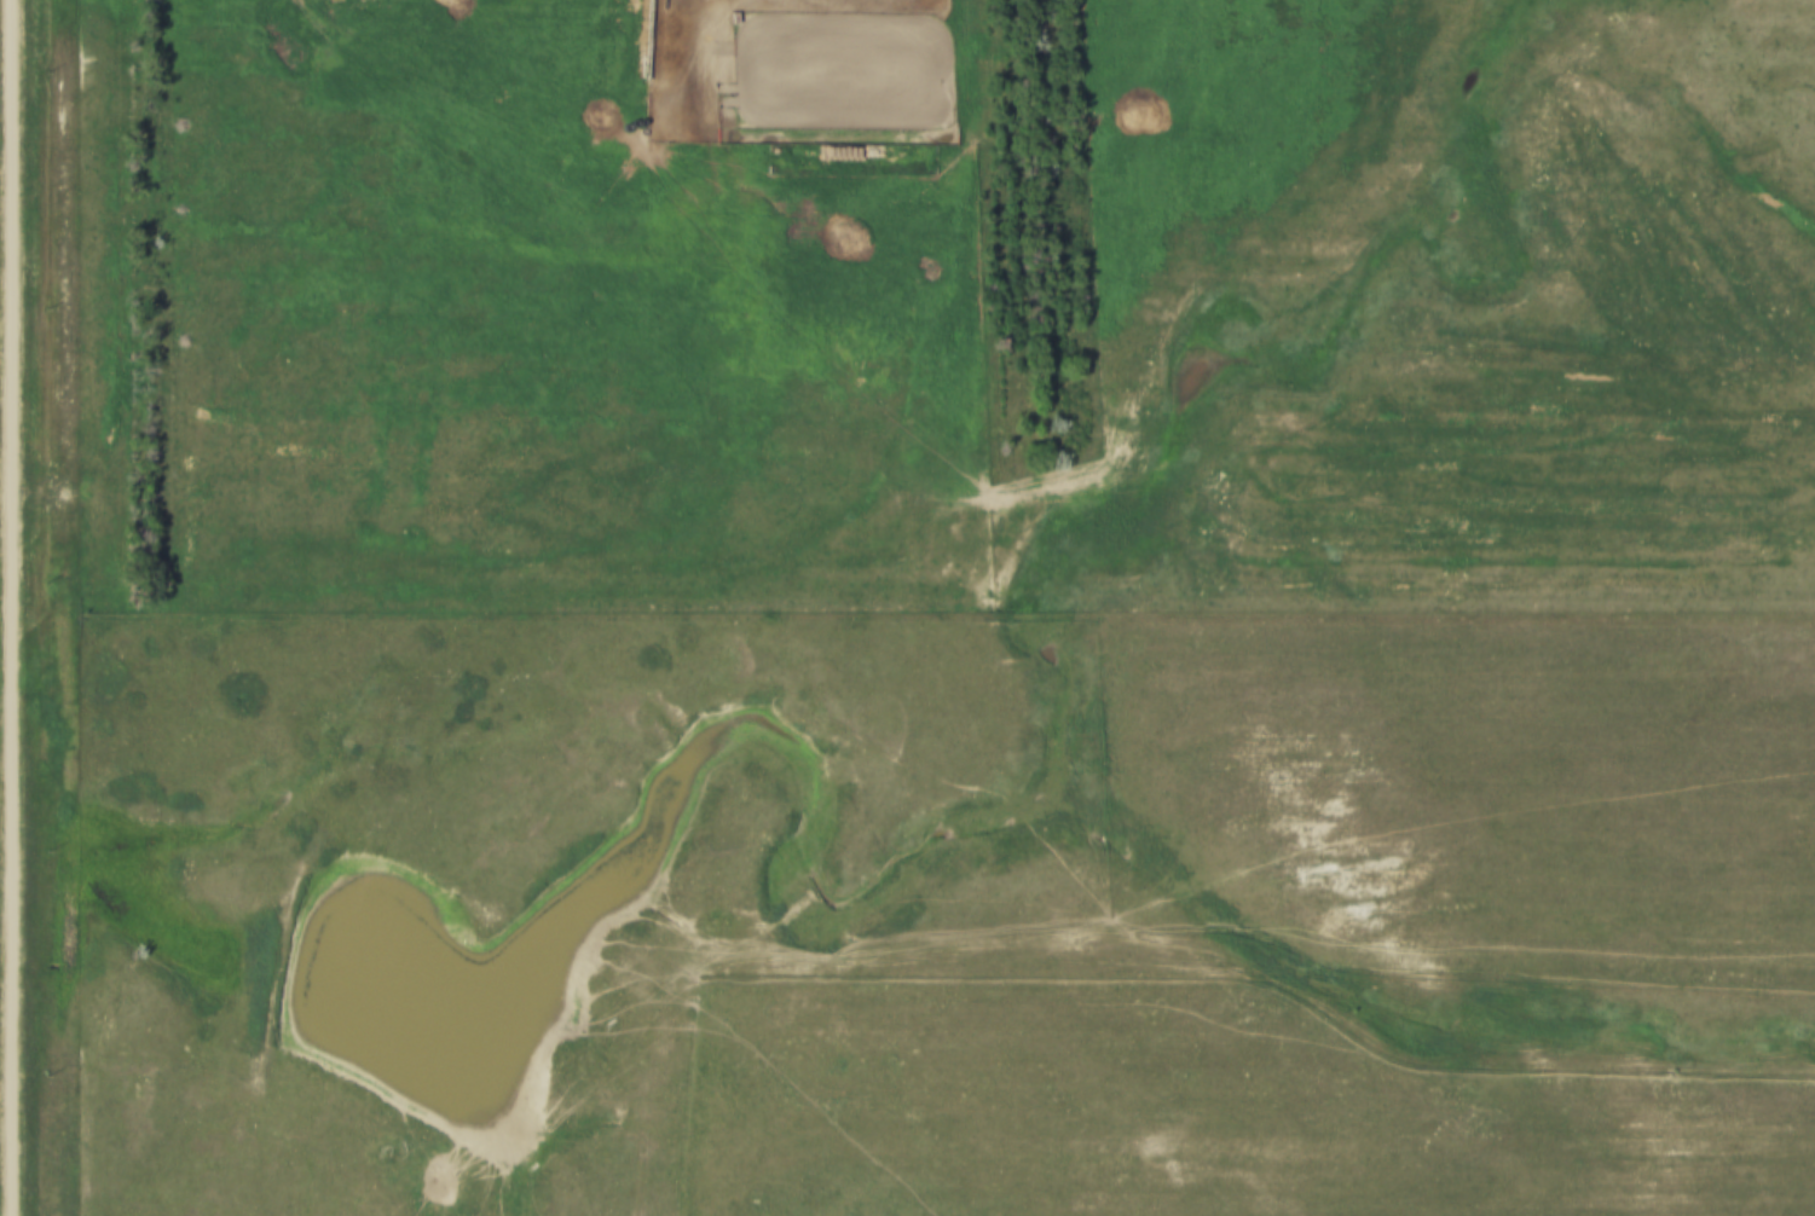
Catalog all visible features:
road: (7, 607)
dam: (271, 965)

